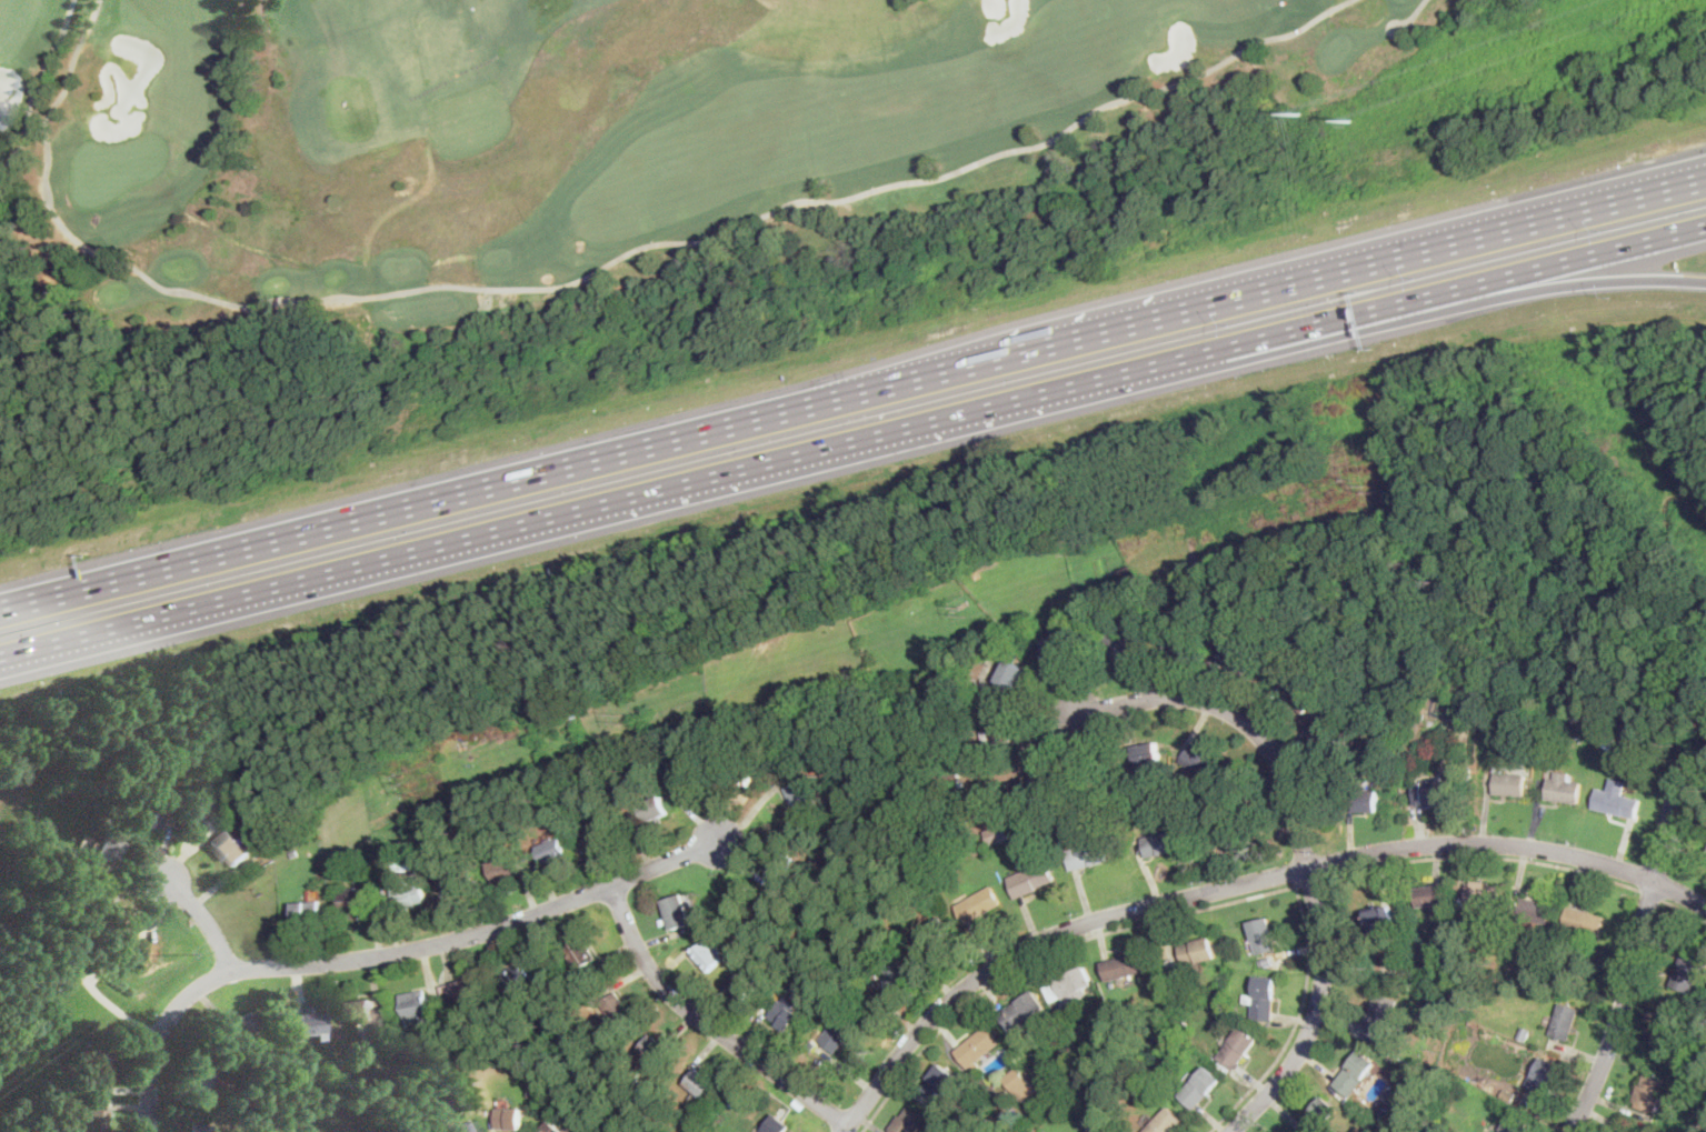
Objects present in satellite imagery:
road: (1411, 16)
road: (33, 86)
power tower: (1303, 113)
power tower: (1353, 120)
park: (556, 147)
road: (1603, 191)
road: (601, 271)
road: (1549, 285)
road: (852, 393)
road: (854, 442)
power tower: (1366, 484)
building: (976, 575)
power tower: (966, 612)
building: (1094, 641)
building: (1060, 643)
building: (1119, 644)
building: (1180, 644)
building: (1238, 657)
building: (1011, 677)
building: (1303, 695)
building: (1465, 699)
building: (1489, 715)
power tower: (621, 720)
building: (999, 731)
building: (1568, 731)
building: (1579, 731)
building: (1609, 741)
building: (1329, 742)
building: (1146, 754)
building: (1199, 760)
building: (1459, 761)
building: (637, 765)
building: (150, 768)
building: (952, 773)
building: (1117, 774)
building: (740, 775)
building: (1045, 775)
building: (688, 780)
power tower: (406, 783)
building: (1509, 784)
building: (511, 787)
building: (204, 788)
building: (1247, 788)
building: (1565, 789)
building: (1109, 791)
building: (1438, 792)
building: (458, 793)
building: (802, 795)
building: (1617, 800)
building: (1365, 801)
building: (202, 810)
building: (655, 810)
building: (1103, 814)
building: (148, 817)
building: (477, 824)
building: (442, 830)
building: (597, 830)
building: (1229, 830)
building: (999, 834)
building: (409, 837)
building: (915, 837)
building: (1161, 843)
road: (1304, 843)
building: (110, 847)
building: (233, 849)
building: (553, 850)
building: (296, 852)
building: (53, 853)
building: (1091, 855)
building: (40, 856)
road: (1481, 858)
building: (780, 866)
building: (503, 870)
building: (1032, 879)
building: (461, 884)
road: (1237, 884)
road: (1309, 885)
building: (81, 893)
building: (409, 894)
building: (1485, 894)
road: (1653, 895)
building: (1430, 896)
building: (357, 902)
building: (979, 904)
building: (1532, 910)
road: (1686, 910)
building: (307, 911)
building: (678, 912)
road: (1180, 914)
road: (202, 918)
building: (1381, 918)
building: (1585, 922)
building: (752, 929)
building: (121, 931)
building: (931, 934)
building: (1499, 934)
building: (1264, 936)
building: (98, 942)
road: (1637, 945)
building: (1198, 951)
road: (386, 952)
building: (780, 952)
building: (582, 954)
building: (709, 956)
building: (1267, 962)
building: (1171, 965)
building: (1588, 965)
building: (1125, 968)
building: (1513, 968)
building: (1689, 970)
building: (58, 974)
building: (519, 975)
building: (891, 976)
building: (1071, 986)
building: (744, 988)
building: (451, 991)
building: (473, 991)
building: (1219, 995)
building: (30, 998)
building: (1264, 999)
building: (765, 1004)
building: (416, 1006)
building: (617, 1008)
building: (1176, 1008)
building: (1024, 1011)
building: (366, 1013)
building: (787, 1015)
building: (1381, 1018)
building: (1108, 1019)
building: (1188, 1021)
building: (1565, 1022)
building: (242, 1023)
building: (310, 1023)
building: (458, 1023)
road: (708, 1023)
building: (837, 1033)
building: (1524, 1034)
building: (1667, 1034)
building: (505, 1035)
building: (211, 1038)
building: (812, 1046)
building: (979, 1046)
building: (21, 1049)
building: (655, 1049)
building: (1236, 1051)
building: (1700, 1062)
building: (1091, 1071)
building: (1356, 1073)
building: (98, 1074)
building: (1545, 1076)
building: (630, 1079)
building: (200, 1081)
building: (361, 1081)
building: (939, 1082)
building: (701, 1083)
building: (28, 1085)
building: (1021, 1085)
building: (535, 1088)
building: (1201, 1088)
building: (1650, 1094)
building: (1508, 1096)
building: (228, 1101)
building: (1497, 1102)
building: (731, 1103)
building: (1387, 1114)
building: (1319, 1115)
building: (509, 1119)
building: (96, 1120)
building: (30, 1122)
building: (907, 1122)
building: (1166, 1122)
building: (778, 1124)
building: (1514, 1124)
building: (409, 1125)
building: (199, 1128)
building: (467, 1128)
building: (550, 1128)
building: (1010, 1129)
building: (1095, 1129)
building: (1702, 1129)

